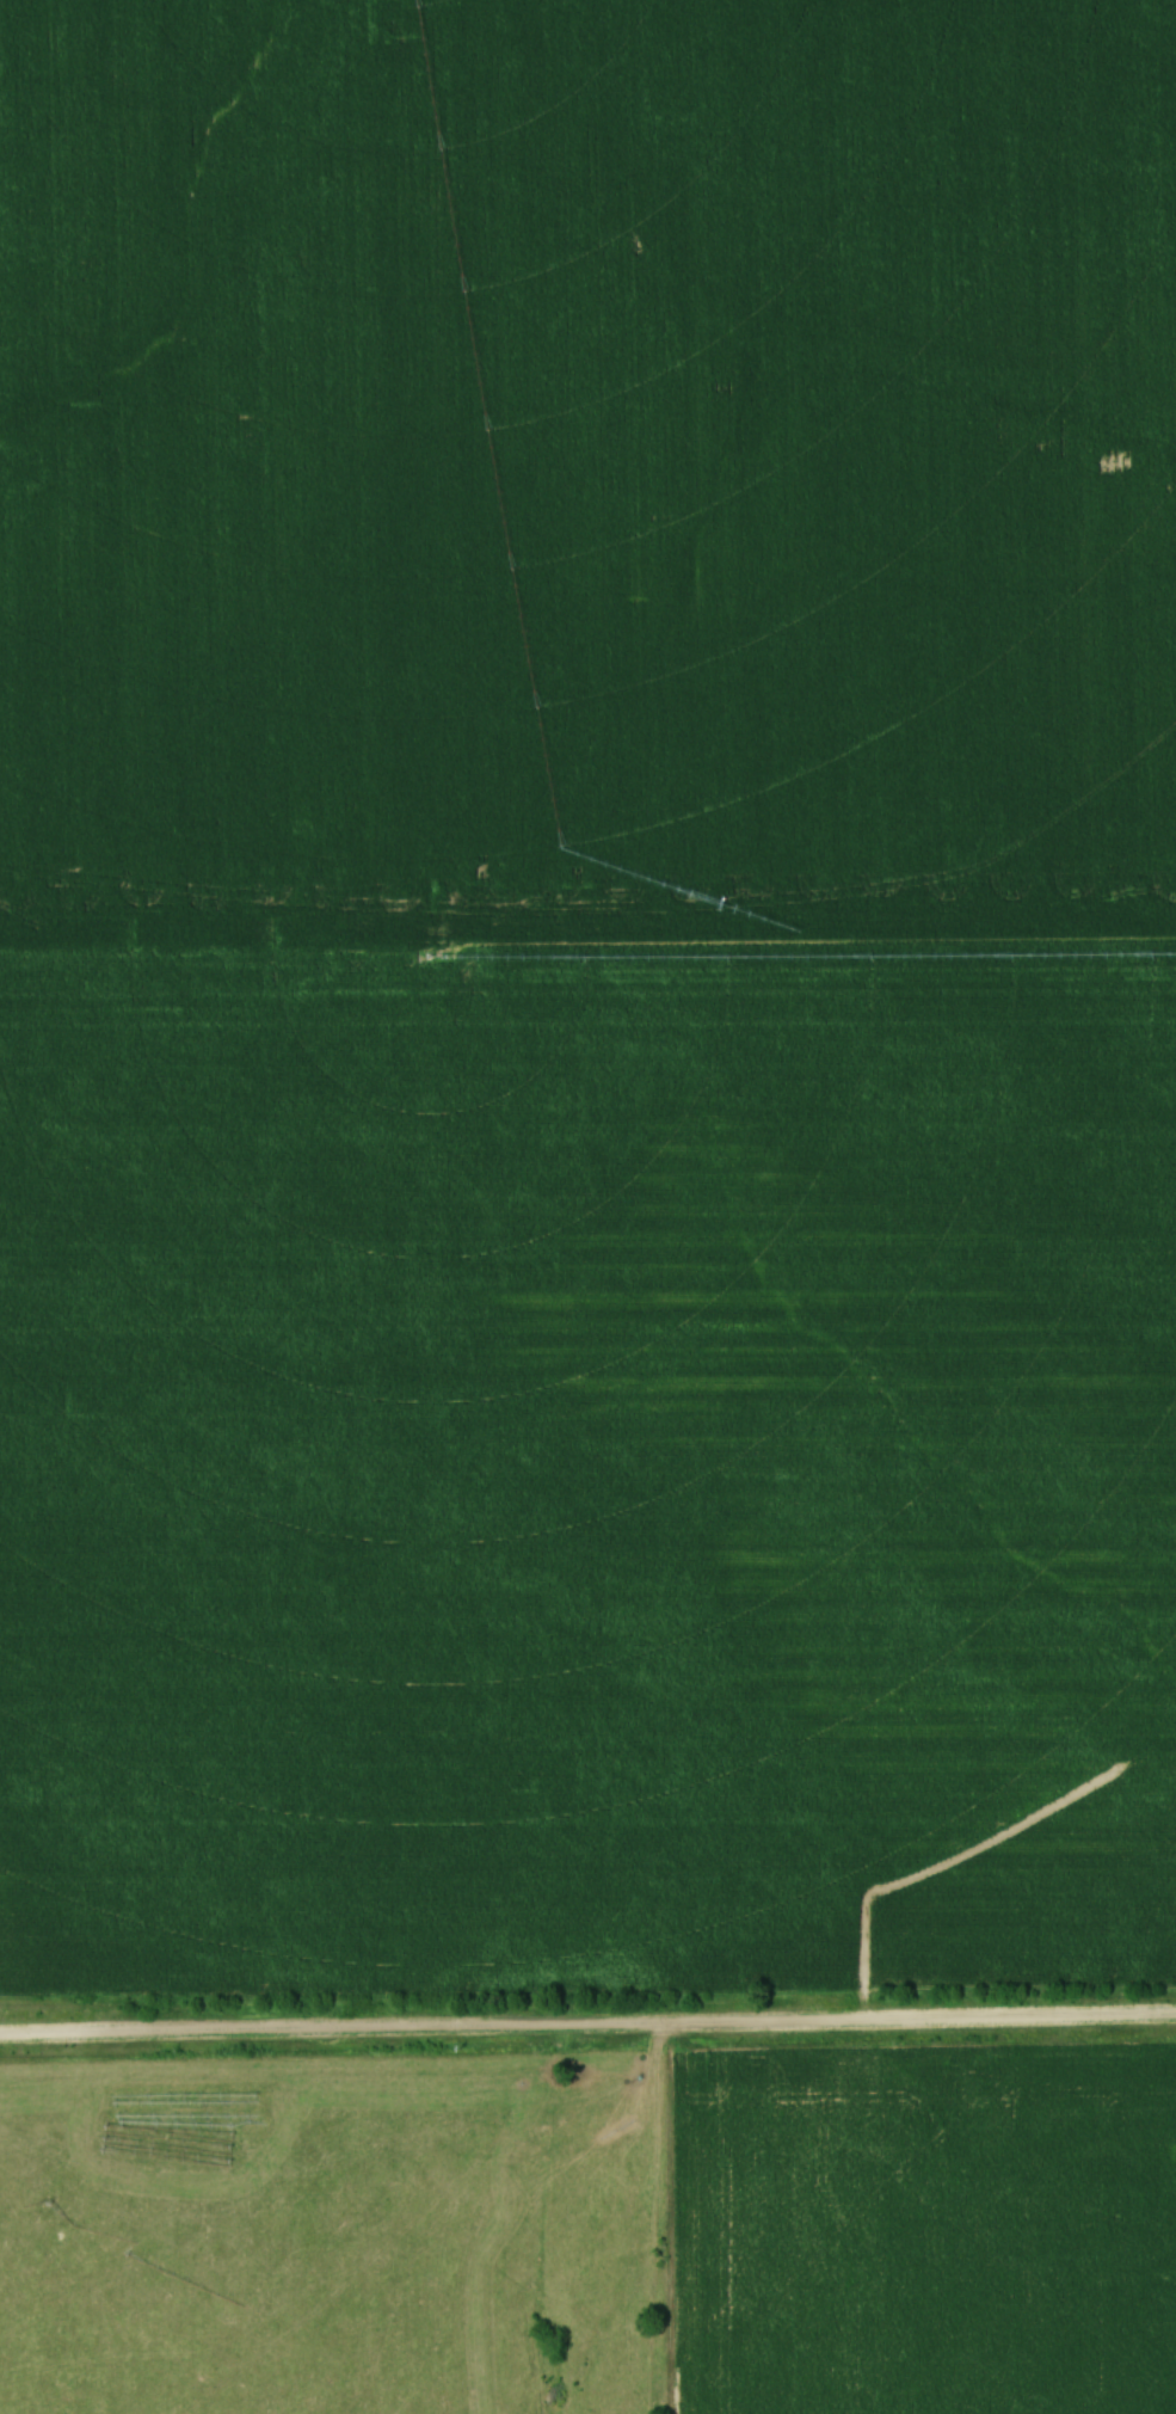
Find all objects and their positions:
road: (587, 2031)

